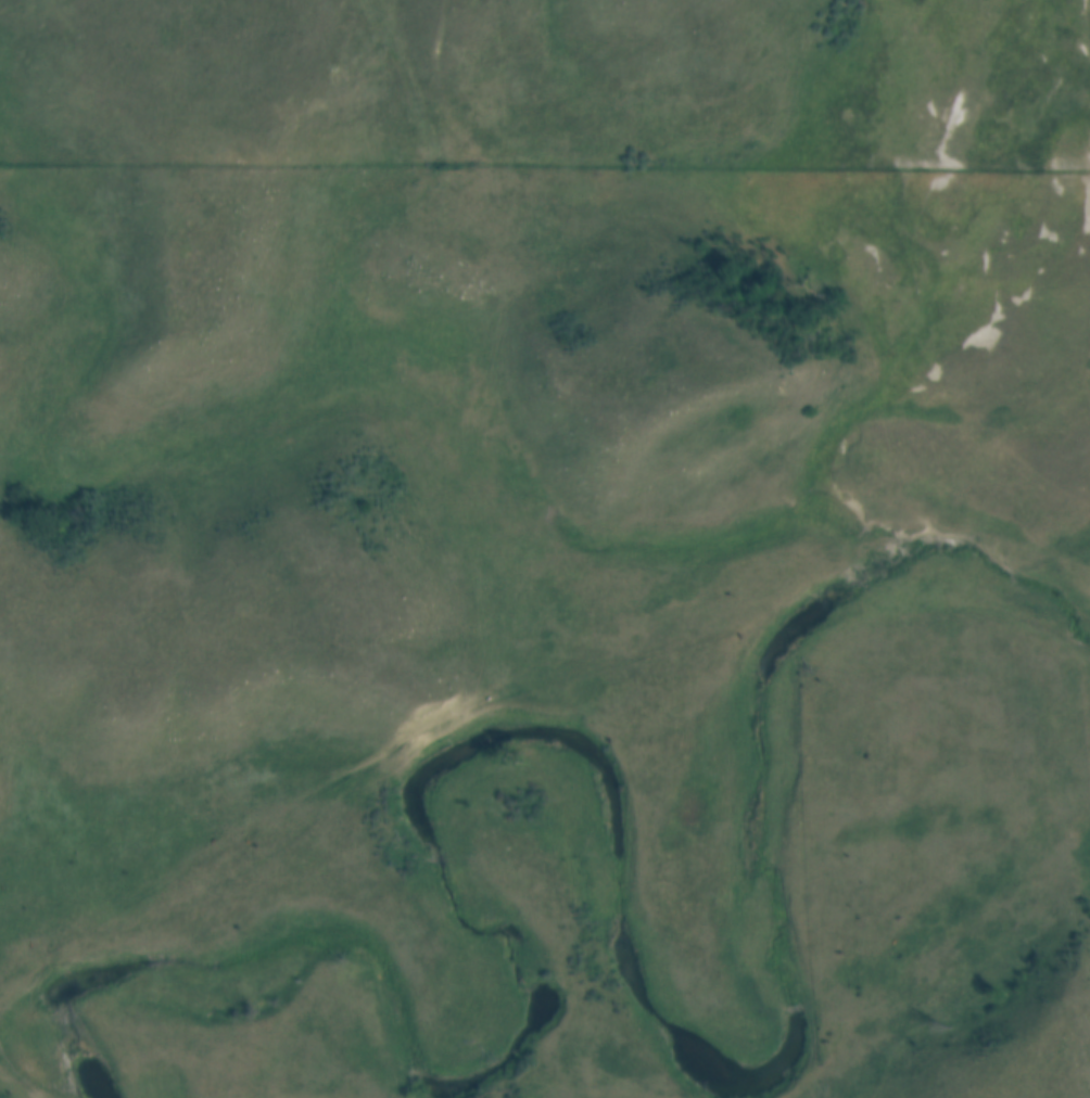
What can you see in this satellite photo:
road: (13, 1089)
road: (307, 1094)

